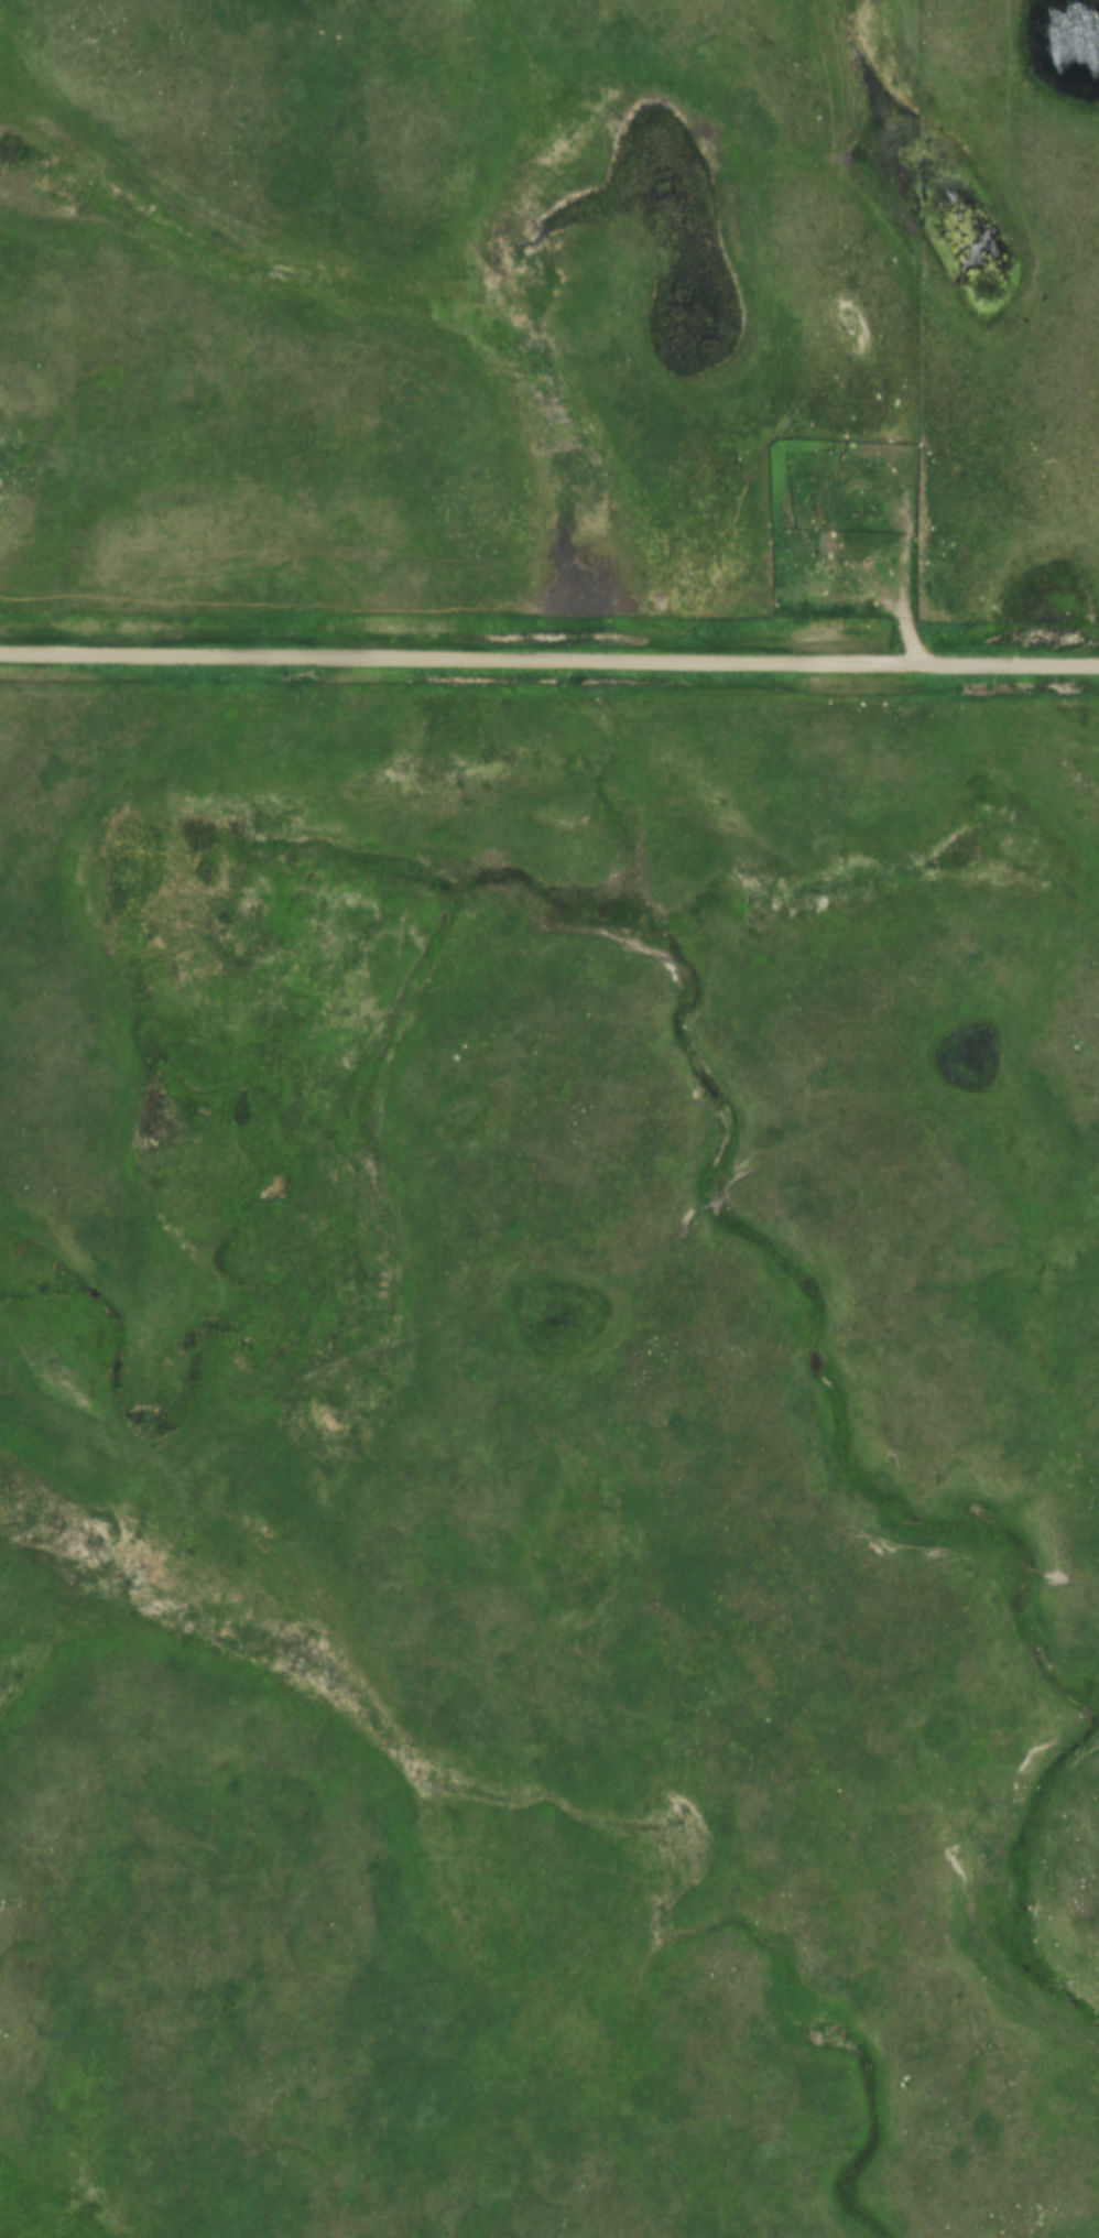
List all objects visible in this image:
road: (548, 662)

